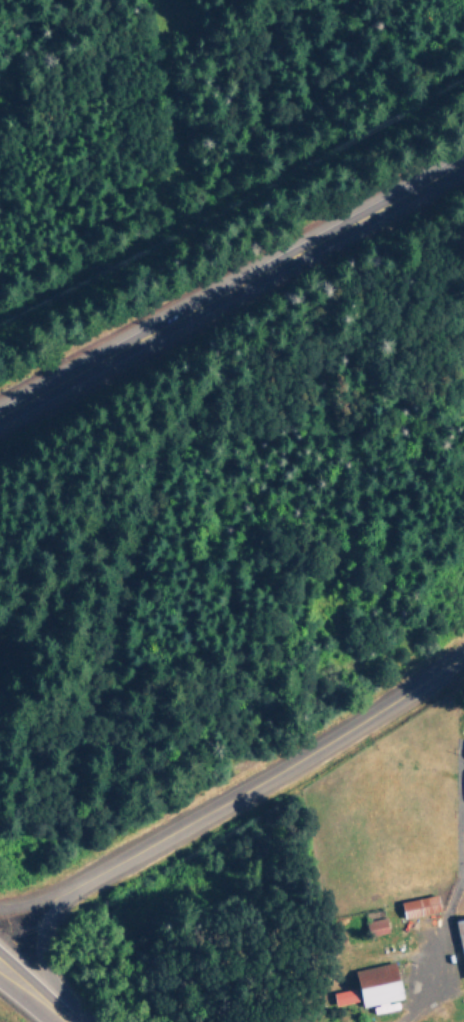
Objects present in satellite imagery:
road: (232, 288)
road: (269, 777)
crop: (385, 847)
road: (34, 899)
building: (422, 908)
building: (462, 931)
road: (435, 950)
road: (41, 955)
road: (7, 968)
road: (7, 978)
building: (384, 985)
road: (39, 1001)

